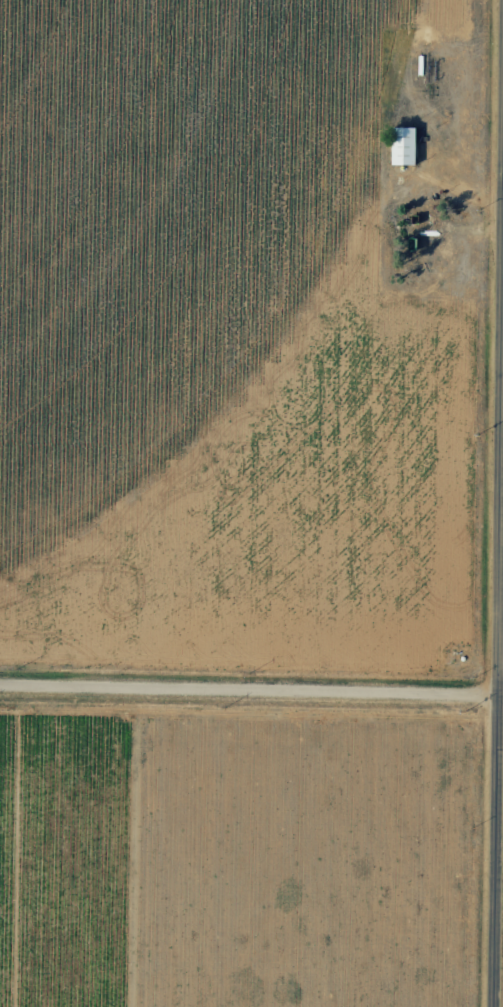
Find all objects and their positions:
building: (405, 145)
road: (484, 703)
road: (241, 717)

